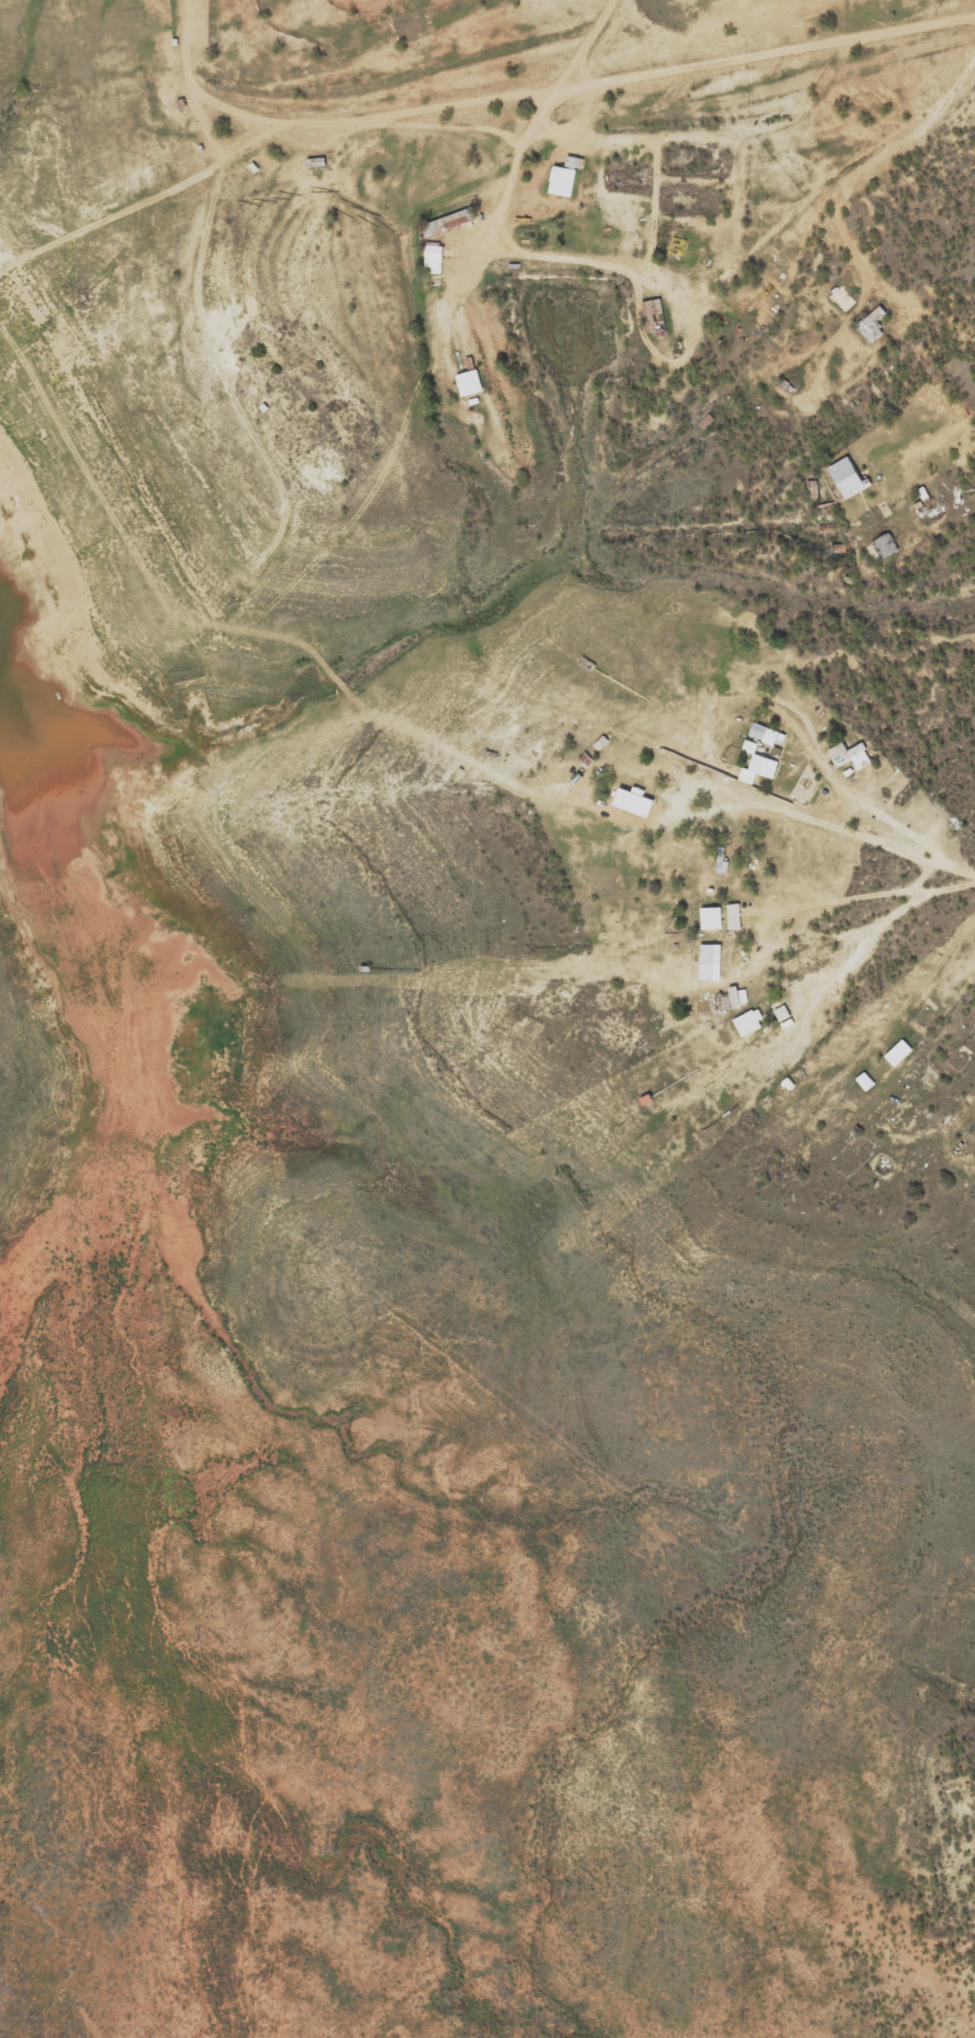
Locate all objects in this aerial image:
road: (587, 41)
road: (540, 88)
road: (207, 138)
building: (317, 161)
building: (565, 177)
road: (834, 204)
building: (448, 222)
building: (434, 258)
building: (841, 299)
building: (655, 316)
building: (872, 325)
building: (848, 477)
building: (886, 546)
building: (763, 734)
building: (850, 757)
building: (757, 765)
building: (675, 773)
building: (804, 786)
building: (634, 801)
road: (816, 817)
road: (775, 882)
building: (734, 916)
building: (711, 918)
building: (710, 956)
building: (749, 1022)
building: (899, 1052)
building: (865, 1082)

